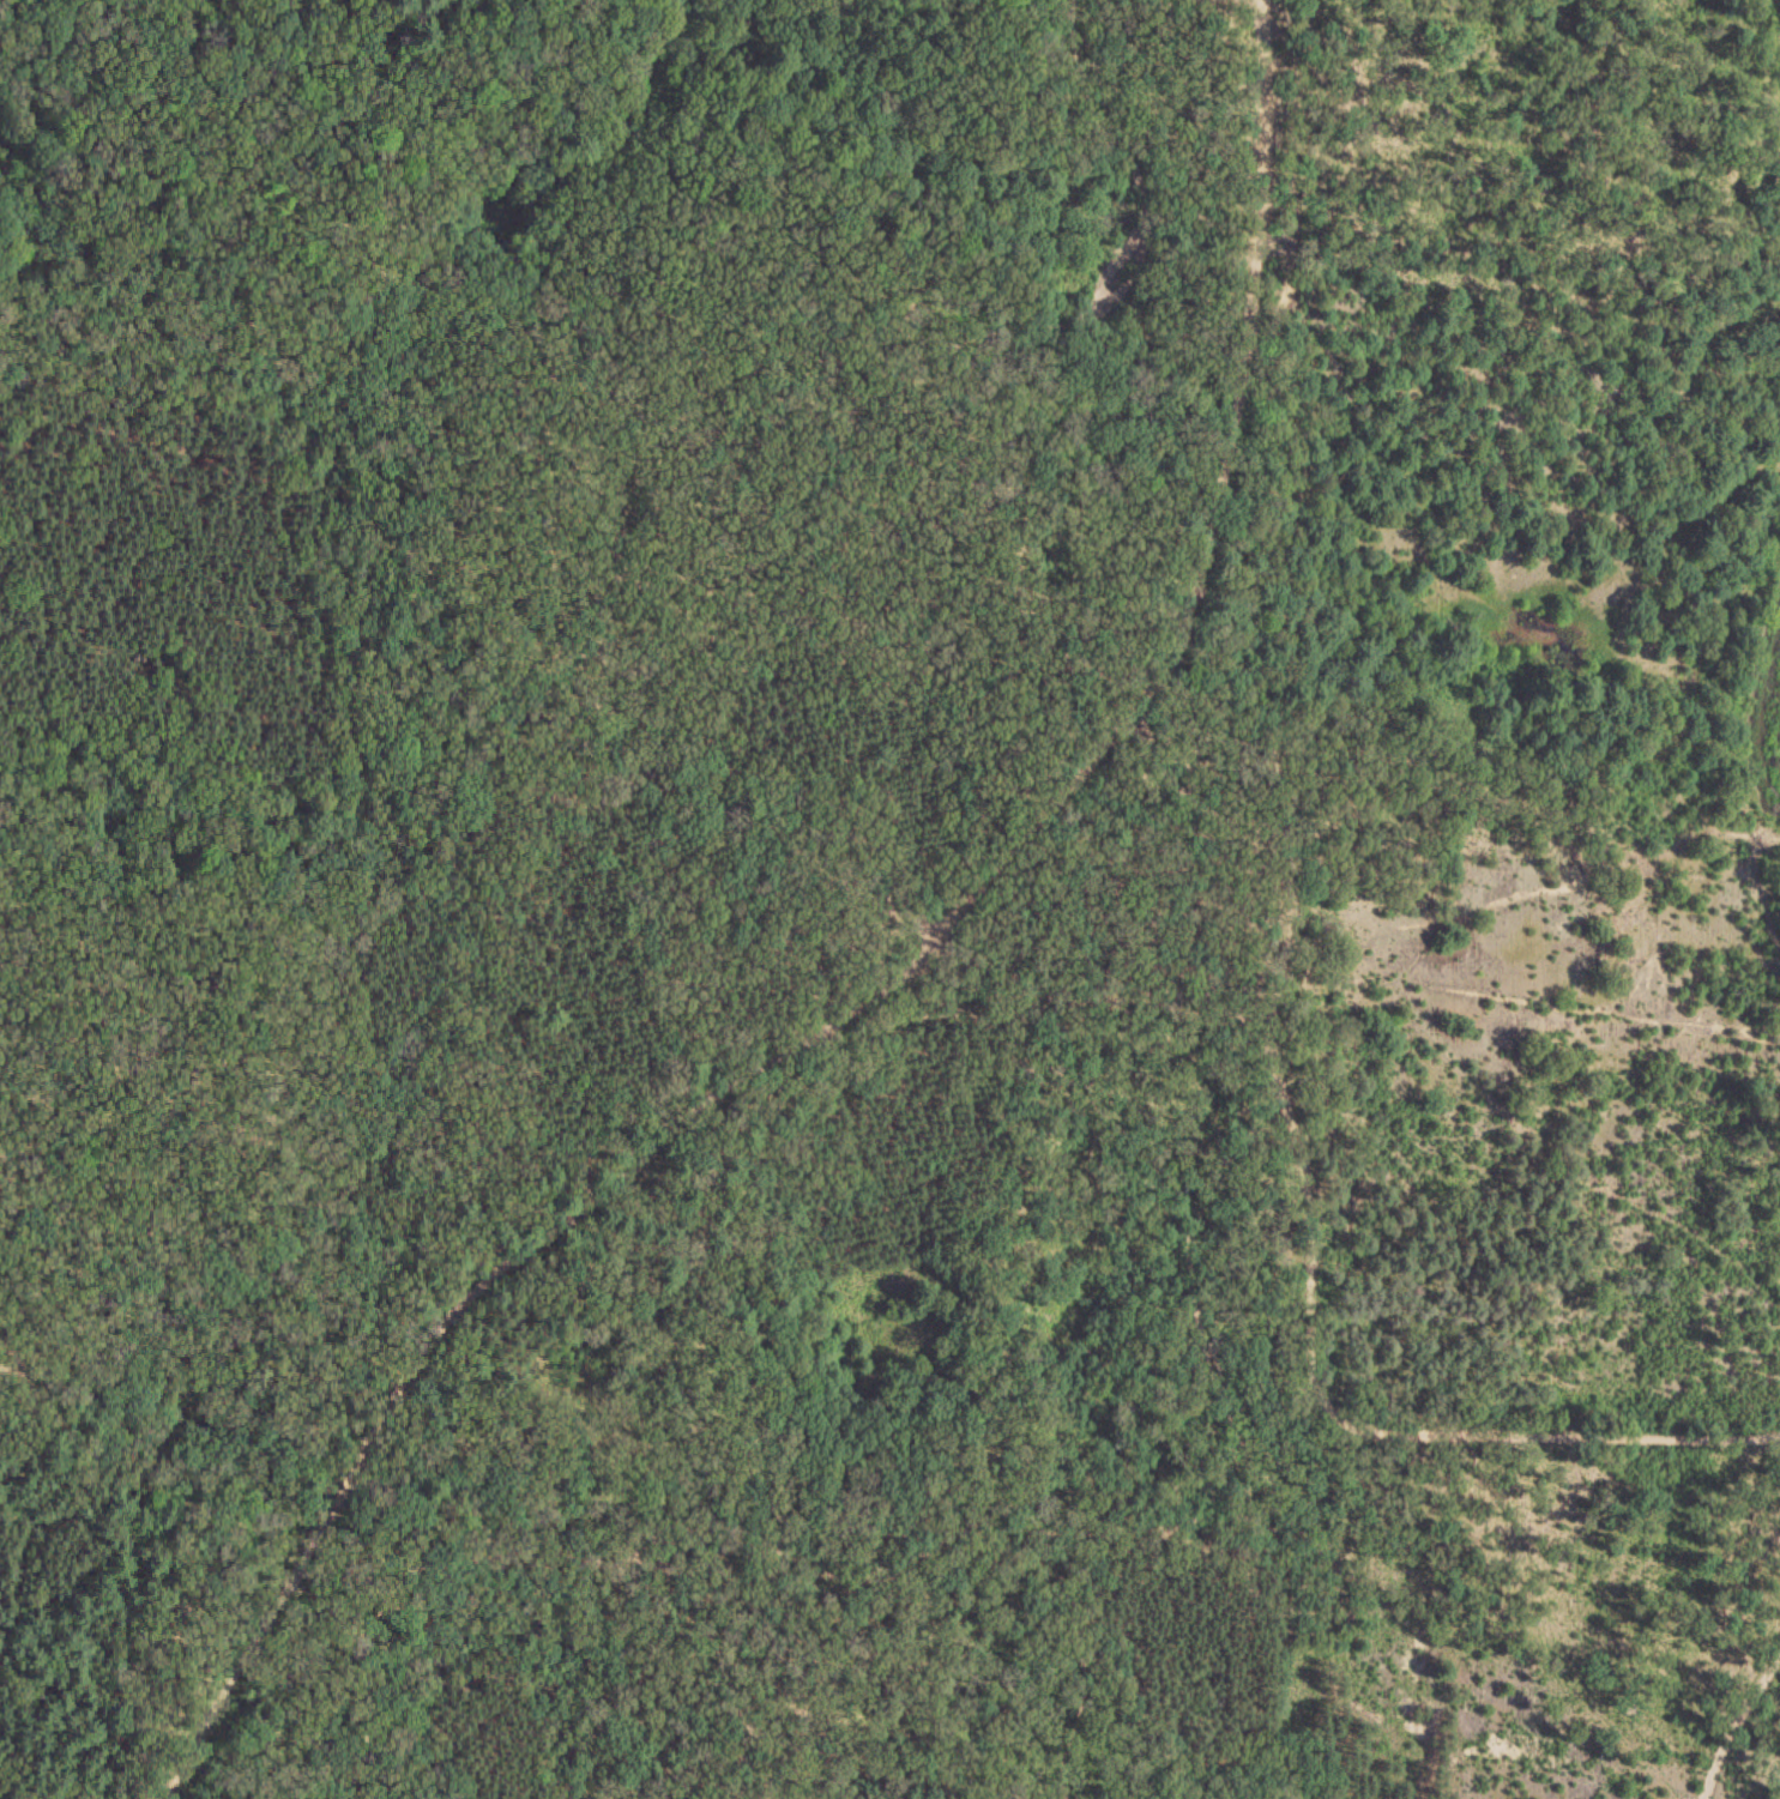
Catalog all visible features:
road: (1289, 689)
road: (1534, 1426)

